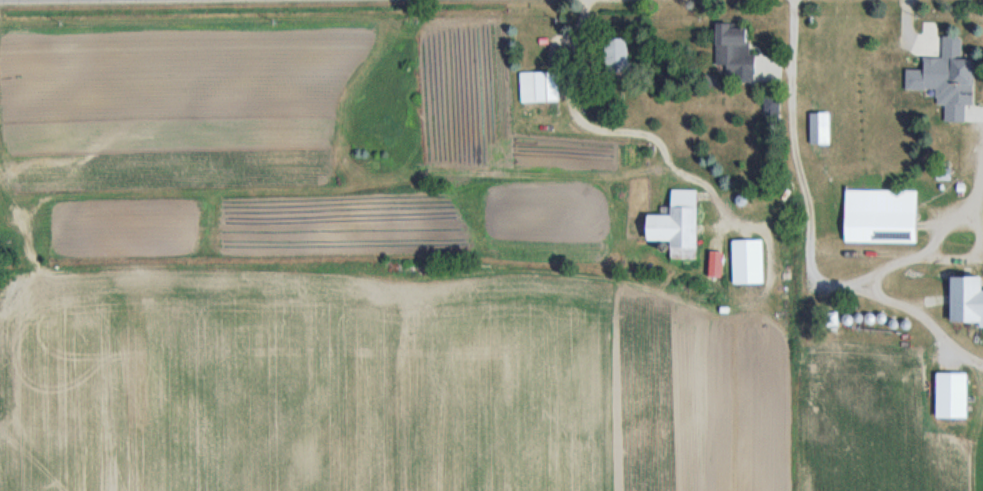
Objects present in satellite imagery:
building: (736, 49)
building: (620, 53)
building: (542, 87)
building: (964, 92)
road: (604, 128)
building: (822, 128)
building: (883, 217)
building: (680, 224)
road: (812, 244)
crop: (347, 275)
building: (970, 299)
crop: (891, 419)

